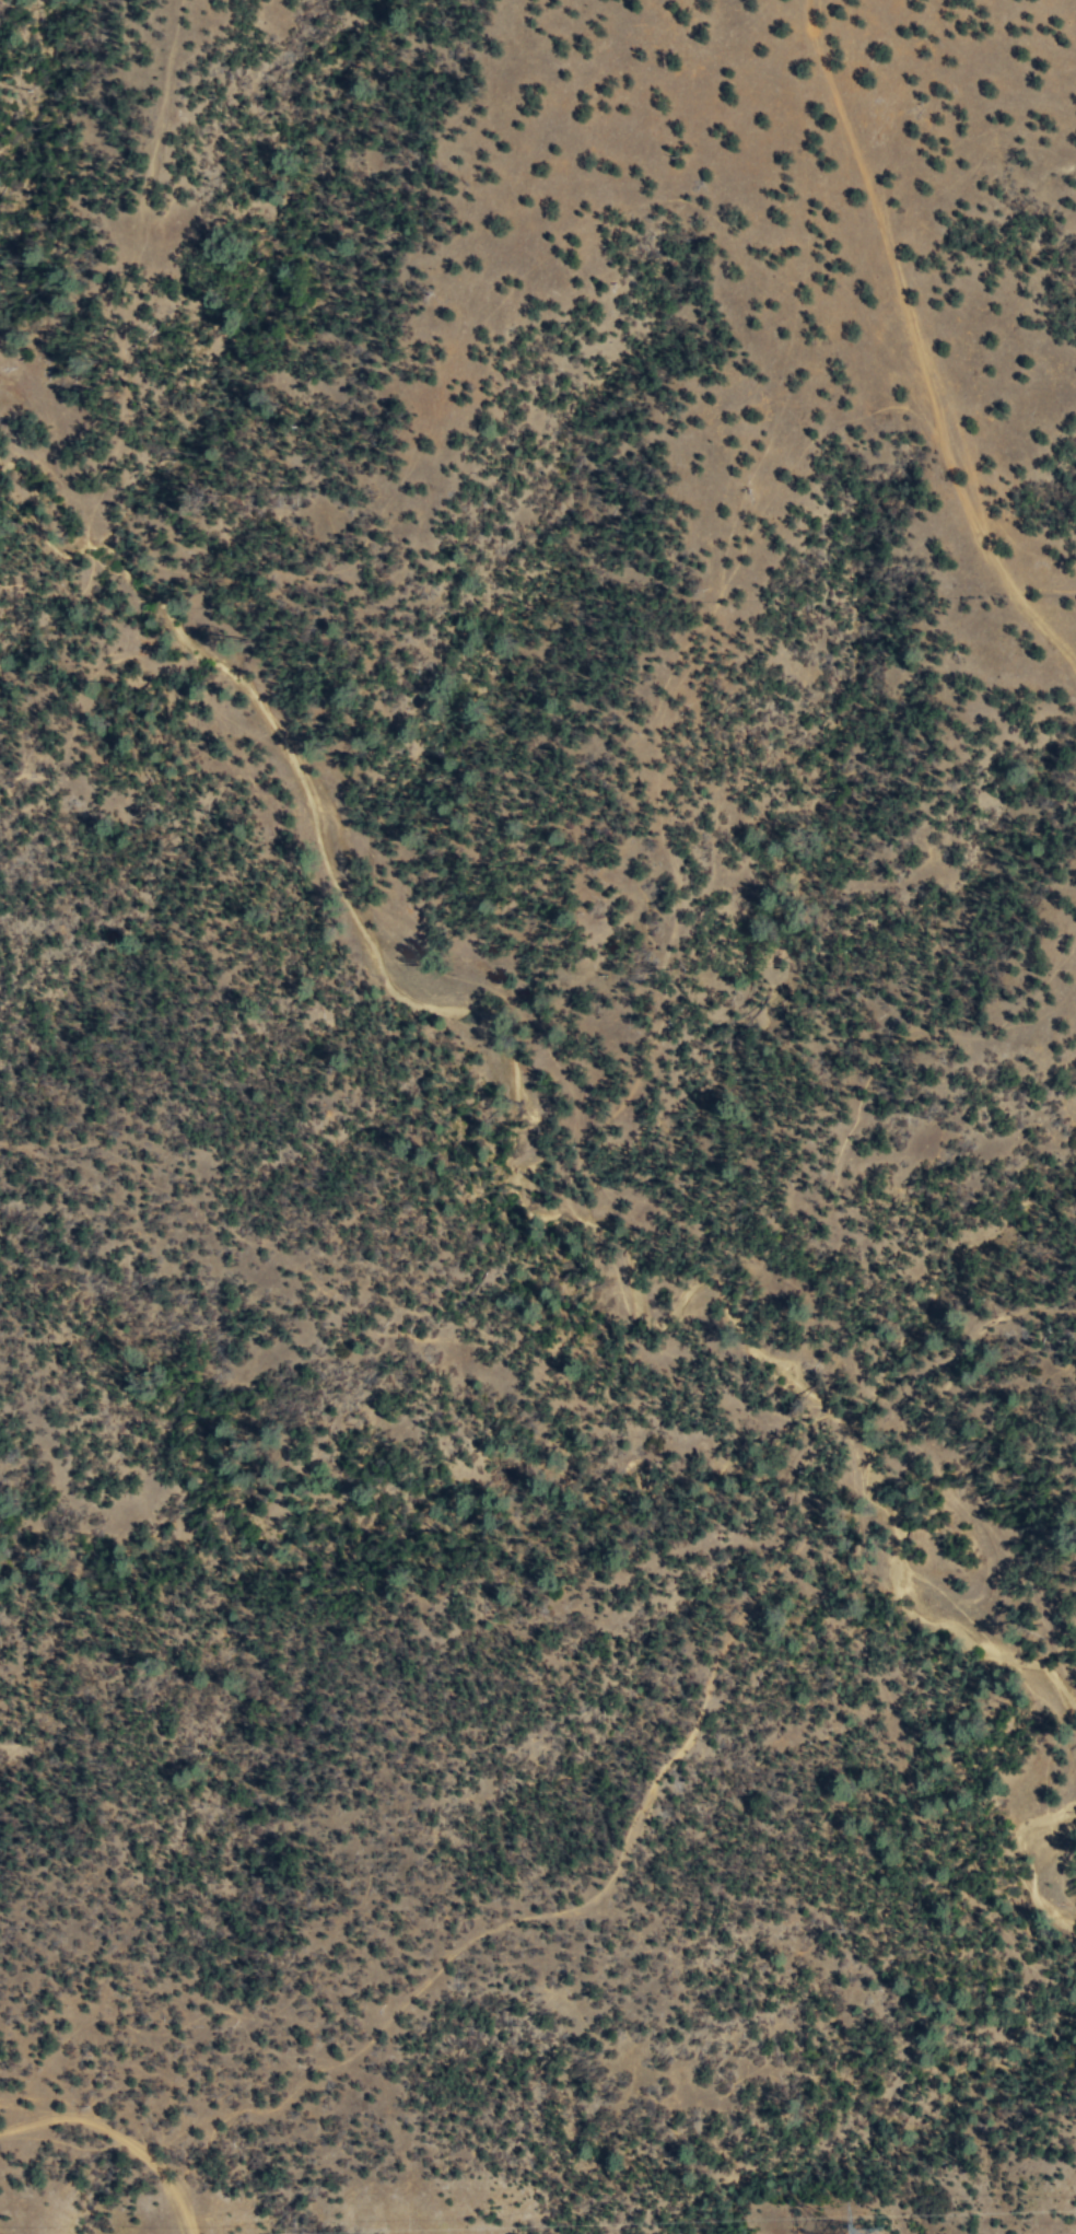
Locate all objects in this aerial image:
road: (920, 345)
road: (119, 2137)

